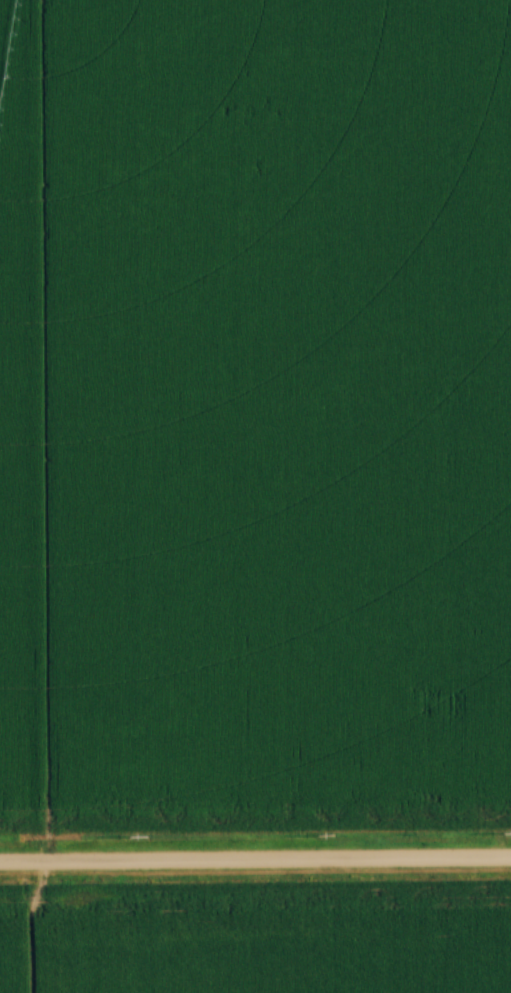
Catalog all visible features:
road: (255, 861)

